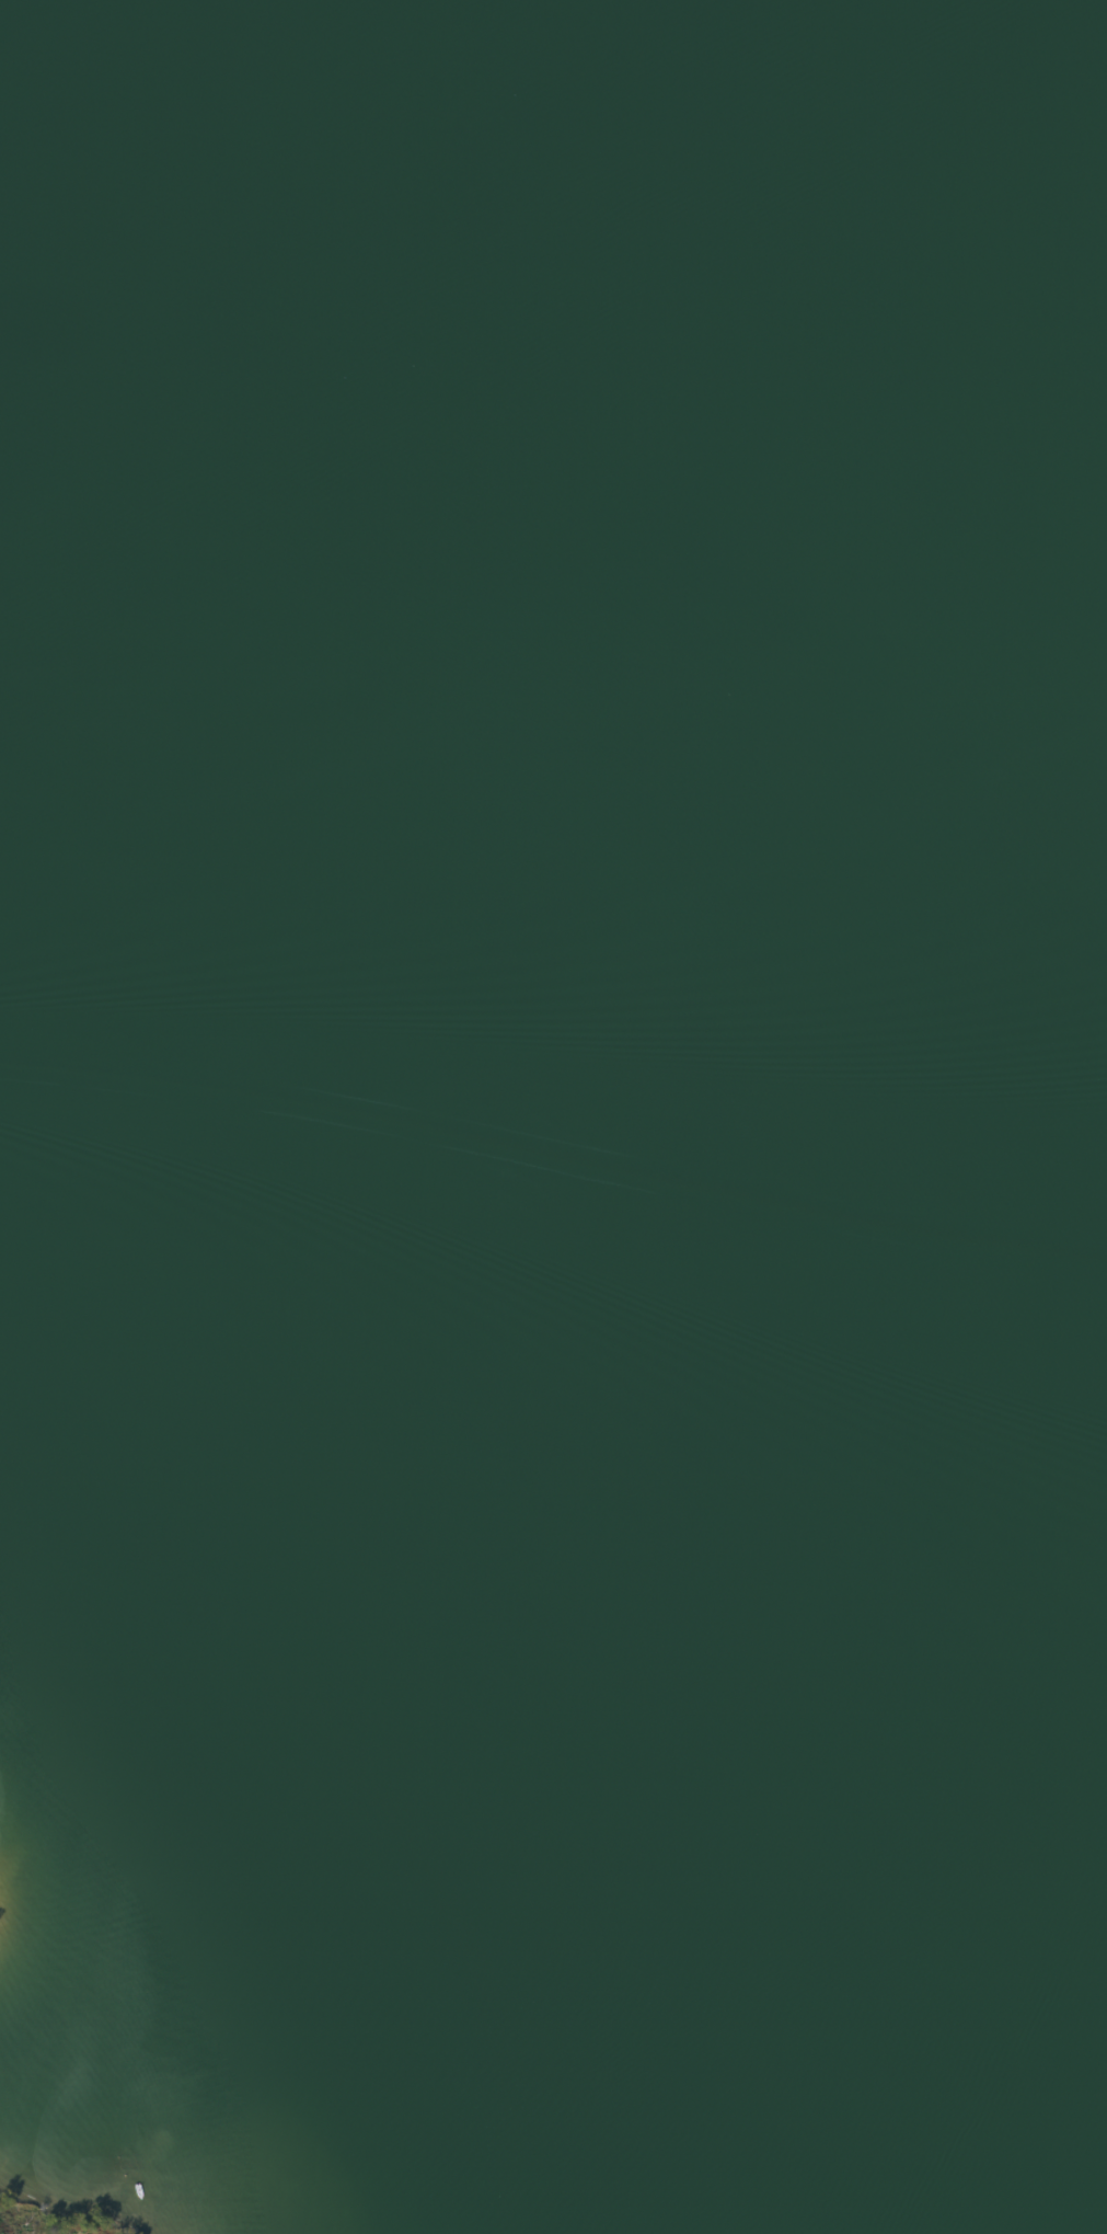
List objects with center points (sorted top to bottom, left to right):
park: (60, 2221)

